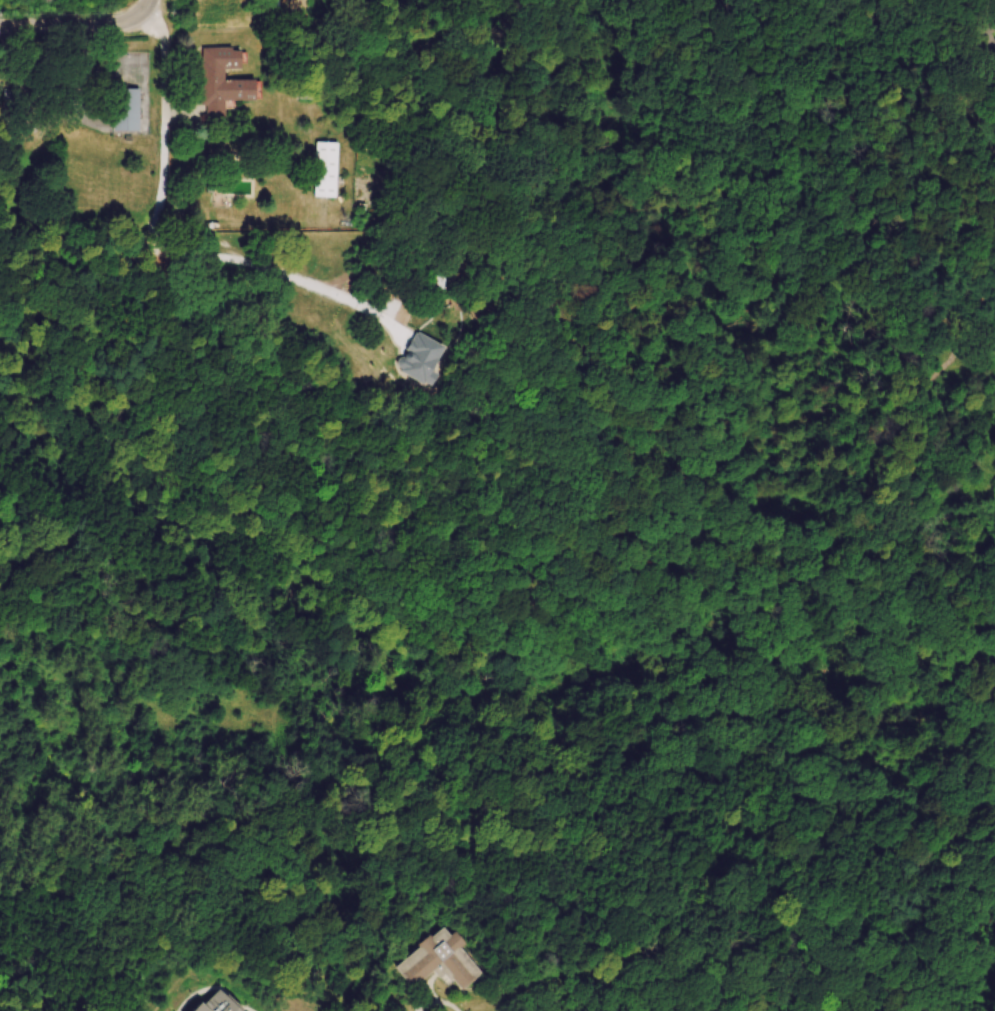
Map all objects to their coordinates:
road: (78, 25)
building: (988, 38)
building: (38, 71)
road: (82, 77)
building: (222, 82)
building: (125, 111)
building: (326, 170)
road: (169, 242)
building: (441, 961)
building: (218, 1003)

